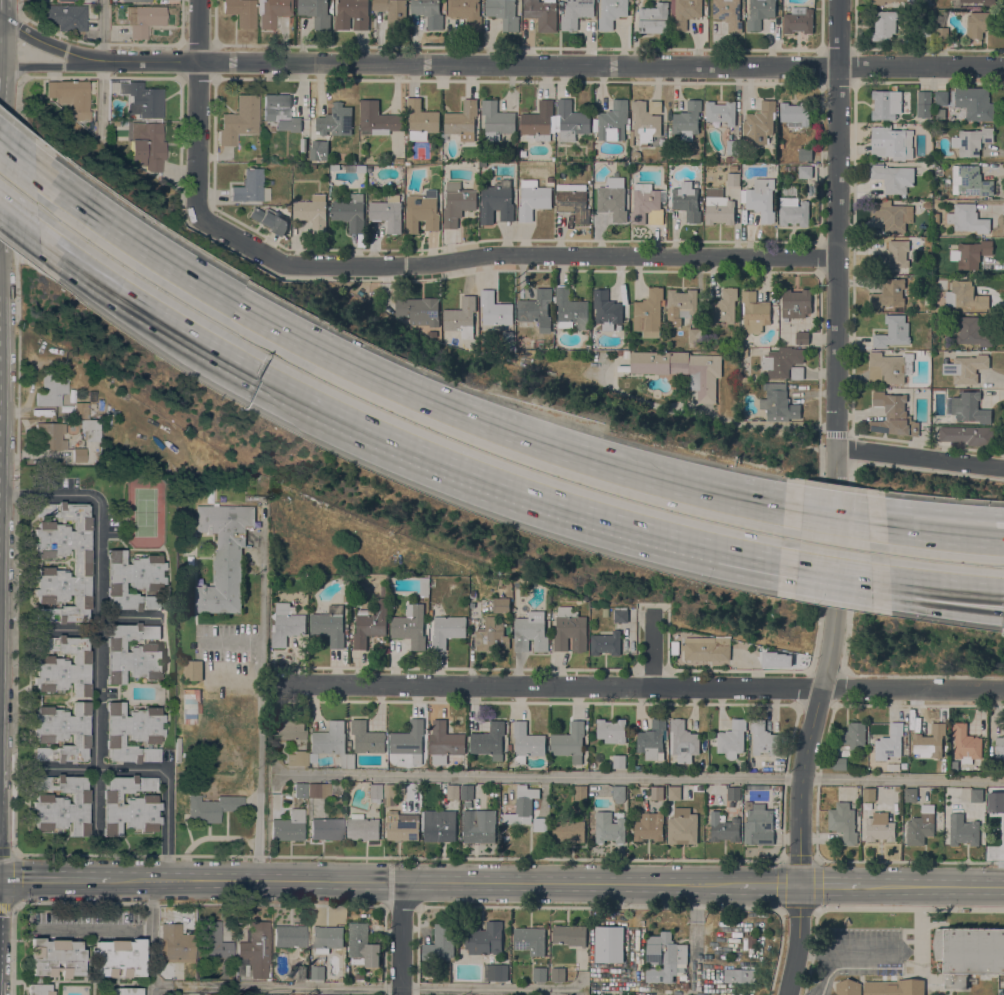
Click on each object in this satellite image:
building: (66, 0)
building: (113, 0)
building: (905, 0)
building: (136, 1)
building: (880, 1)
building: (981, 1)
building: (274, 11)
building: (241, 12)
building: (316, 12)
building: (428, 12)
building: (466, 12)
building: (684, 12)
building: (393, 13)
building: (504, 13)
building: (576, 13)
building: (611, 13)
building: (728, 13)
building: (759, 13)
building: (352, 14)
building: (542, 14)
building: (63, 16)
building: (654, 18)
building: (941, 18)
building: (142, 19)
building: (798, 19)
building: (978, 23)
building: (883, 25)
building: (924, 33)
building: (941, 33)
road: (496, 63)
road: (51, 65)
road: (101, 70)
building: (71, 96)
building: (941, 97)
building: (142, 100)
road: (196, 102)
building: (975, 102)
building: (886, 103)
building: (923, 103)
building: (280, 112)
building: (721, 112)
building: (795, 112)
building: (377, 118)
building: (613, 119)
building: (239, 120)
building: (336, 120)
building: (421, 120)
building: (462, 120)
building: (496, 120)
building: (571, 120)
building: (646, 120)
building: (687, 120)
building: (539, 121)
building: (759, 123)
building: (631, 137)
building: (971, 140)
building: (662, 141)
building: (891, 141)
building: (303, 144)
building: (780, 144)
building: (148, 146)
building: (732, 146)
building: (316, 154)
building: (805, 154)
road: (18, 155)
building: (369, 158)
building: (728, 158)
building: (256, 159)
building: (398, 160)
building: (334, 167)
building: (356, 168)
building: (735, 168)
building: (804, 171)
building: (893, 177)
building: (732, 179)
building: (934, 179)
building: (970, 181)
building: (250, 187)
building: (532, 198)
building: (761, 199)
building: (458, 201)
building: (497, 201)
building: (612, 201)
building: (686, 201)
building: (574, 204)
building: (646, 204)
building: (792, 206)
building: (718, 207)
building: (312, 212)
building: (350, 212)
building: (387, 212)
building: (421, 213)
building: (892, 215)
building: (937, 218)
building: (967, 218)
building: (270, 220)
road: (838, 241)
road: (506, 253)
building: (971, 253)
building: (892, 256)
road: (120, 289)
building: (888, 293)
building: (965, 295)
building: (682, 302)
building: (795, 303)
building: (723, 306)
building: (495, 309)
building: (537, 309)
building: (570, 309)
building: (606, 309)
building: (418, 310)
building: (754, 312)
building: (648, 313)
building: (461, 317)
building: (893, 332)
building: (972, 332)
building: (695, 334)
building: (508, 337)
building: (802, 337)
building: (484, 341)
building: (538, 343)
building: (744, 351)
building: (784, 362)
building: (890, 367)
building: (966, 368)
building: (682, 370)
road: (369, 373)
building: (51, 388)
building: (778, 401)
building: (968, 407)
building: (80, 410)
building: (893, 415)
road: (713, 416)
building: (90, 430)
building: (967, 435)
building: (49, 436)
building: (78, 455)
road: (920, 458)
road: (581, 513)
road: (865, 522)
road: (999, 544)
road: (999, 545)
building: (224, 555)
building: (82, 562)
building: (133, 580)
road: (972, 585)
building: (424, 587)
road: (972, 589)
building: (383, 590)
building: (345, 598)
building: (501, 605)
building: (605, 612)
building: (619, 615)
building: (370, 622)
building: (286, 624)
building: (329, 625)
building: (410, 626)
building: (447, 630)
building: (569, 630)
building: (530, 632)
building: (489, 635)
road: (230, 641)
building: (605, 643)
building: (706, 648)
road: (658, 649)
building: (133, 653)
building: (776, 659)
building: (63, 666)
building: (193, 669)
road: (95, 677)
road: (640, 686)
road: (260, 695)
building: (288, 729)
building: (611, 730)
building: (62, 732)
building: (132, 733)
building: (852, 736)
building: (366, 737)
building: (732, 737)
building: (762, 738)
building: (652, 739)
building: (409, 740)
building: (330, 741)
building: (489, 741)
building: (682, 741)
building: (930, 741)
building: (444, 742)
building: (526, 742)
building: (569, 742)
building: (889, 742)
building: (965, 743)
building: (999, 747)
building: (296, 758)
building: (351, 760)
building: (618, 761)
building: (839, 763)
building: (633, 764)
building: (954, 765)
road: (65, 766)
road: (641, 777)
building: (755, 787)
building: (777, 787)
building: (299, 790)
building: (318, 790)
building: (453, 791)
building: (466, 791)
building: (376, 792)
building: (580, 792)
building: (656, 792)
building: (674, 792)
building: (619, 793)
building: (733, 793)
building: (389, 794)
building: (869, 794)
building: (910, 794)
road: (94, 795)
building: (976, 795)
road: (799, 800)
building: (996, 802)
building: (731, 803)
building: (61, 804)
building: (468, 804)
building: (129, 805)
building: (522, 805)
building: (211, 808)
building: (843, 820)
building: (538, 823)
building: (402, 825)
building: (439, 825)
building: (478, 825)
building: (759, 825)
building: (287, 826)
building: (649, 826)
building: (682, 826)
building: (880, 826)
building: (920, 826)
building: (362, 827)
building: (723, 827)
building: (608, 828)
building: (325, 829)
building: (569, 829)
building: (963, 830)
building: (1002, 840)
road: (54, 881)
road: (423, 882)
road: (769, 884)
traffic signals: (799, 884)
road: (829, 884)
road: (931, 885)
road: (90, 927)
building: (569, 934)
building: (289, 936)
road: (150, 938)
building: (326, 938)
road: (400, 938)
building: (484, 938)
building: (213, 940)
building: (530, 940)
building: (752, 941)
building: (174, 942)
building: (440, 942)
building: (609, 943)
building: (361, 944)
road: (813, 950)
building: (254, 951)
road: (839, 951)
building: (968, 953)
building: (711, 954)
building: (55, 957)
building: (117, 958)
building: (665, 958)
building: (495, 971)
building: (299, 972)
building: (317, 972)
building: (557, 973)
building: (539, 974)
building: (739, 975)
building: (685, 985)
road: (275, 986)
road: (487, 987)
building: (848, 987)
building: (894, 987)
building: (39, 989)
building: (120, 991)
building: (206, 993)

